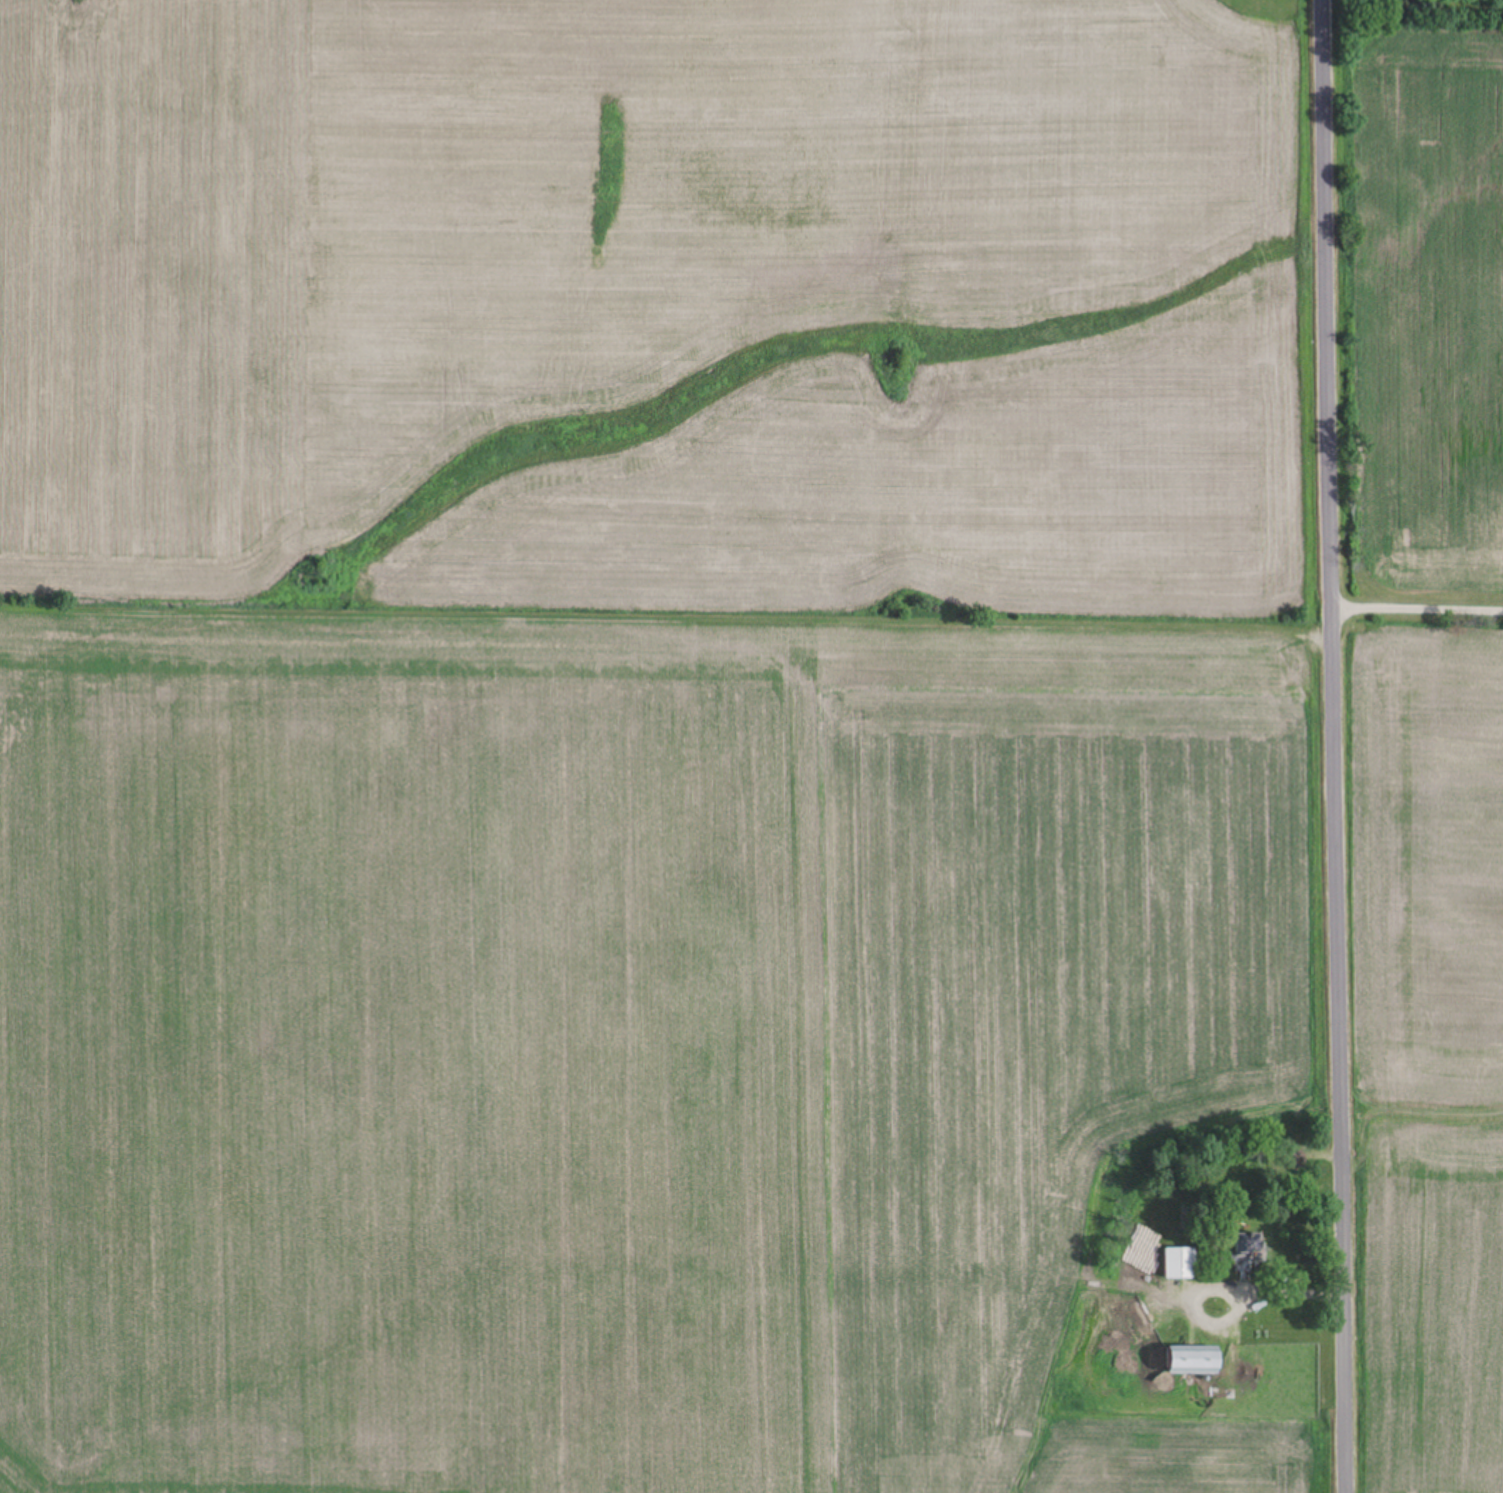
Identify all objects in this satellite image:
road: (1335, 746)
building: (1248, 1248)
building: (1180, 1264)
building: (1195, 1360)

